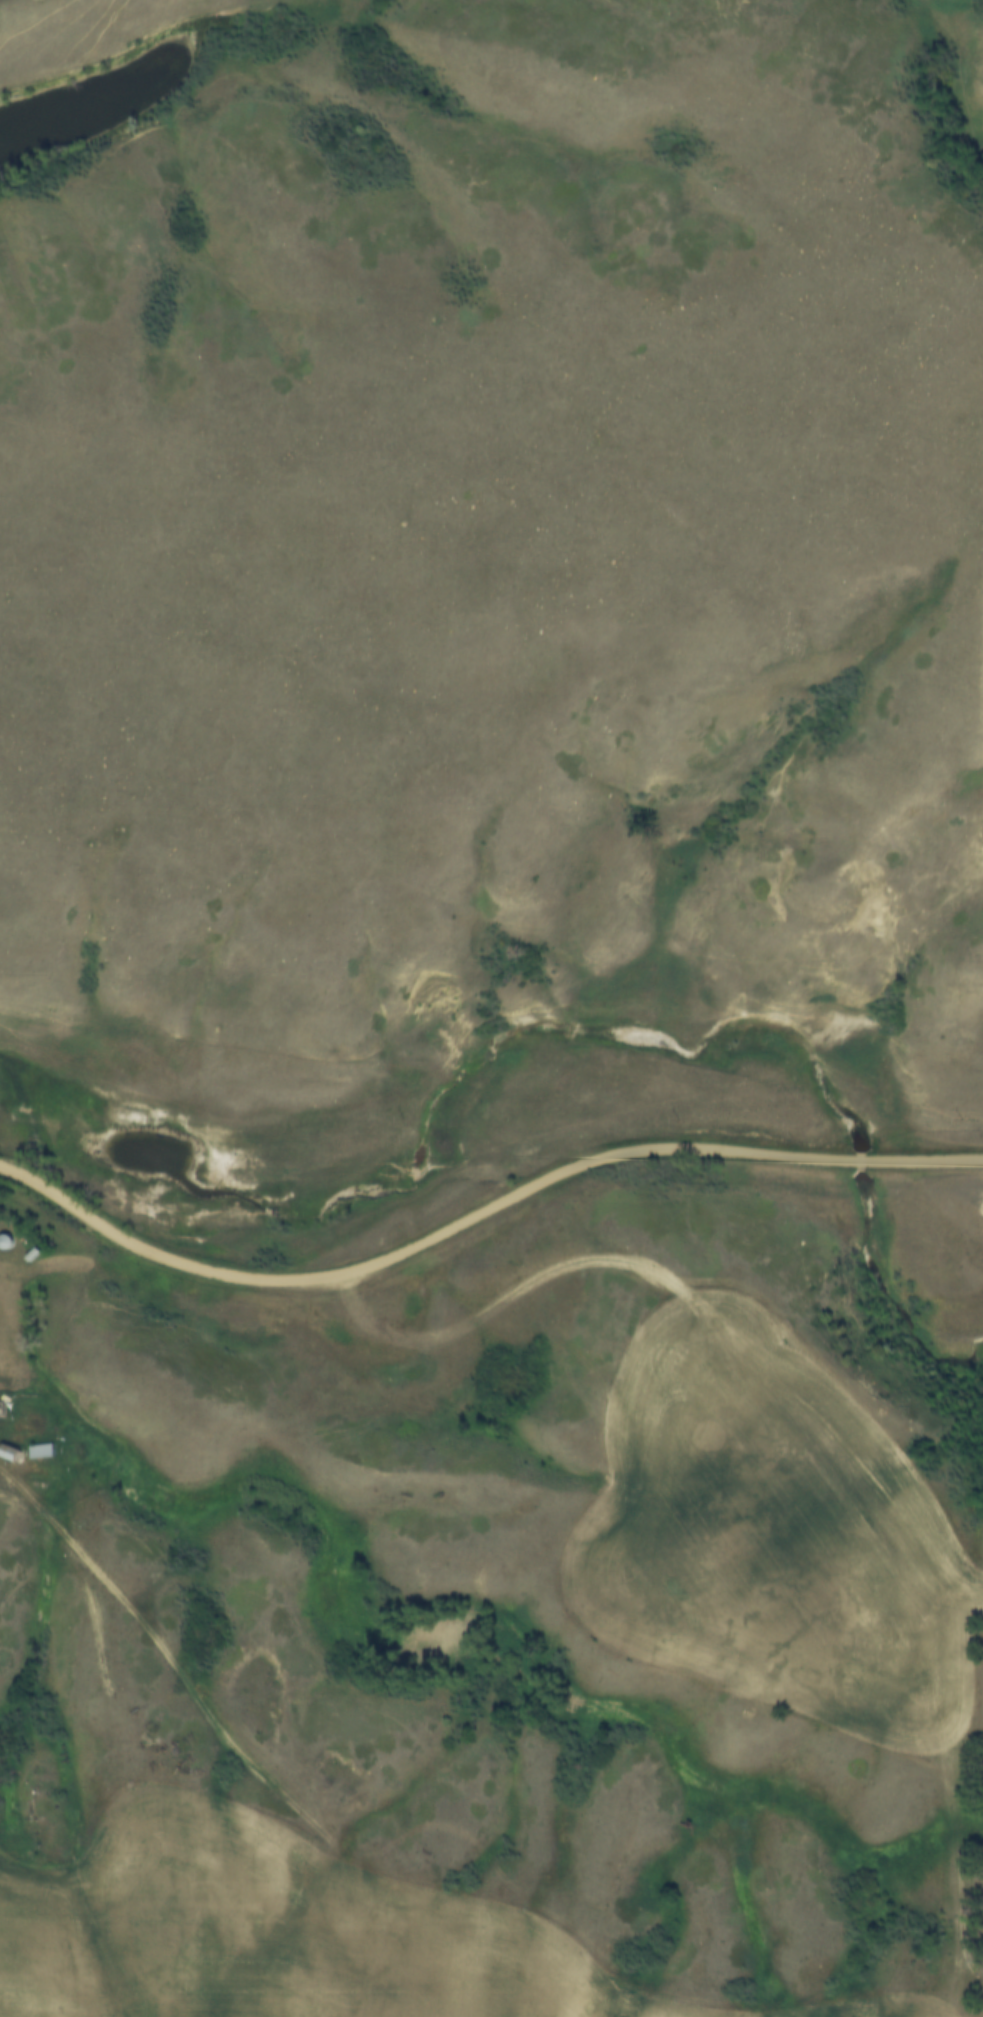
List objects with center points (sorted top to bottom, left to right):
road: (479, 1218)
building: (9, 1241)
building: (3, 1409)
building: (43, 1450)
building: (12, 1455)

